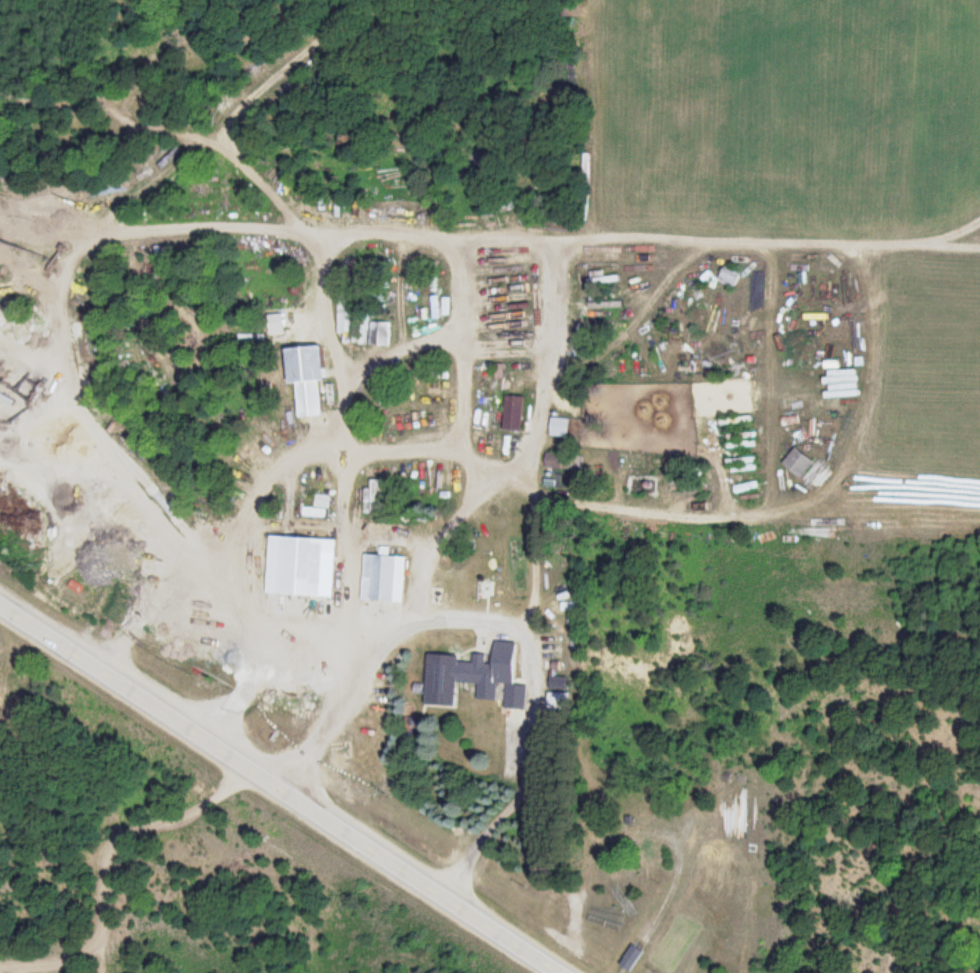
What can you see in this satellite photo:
building: (600, 192)
road: (390, 240)
building: (729, 275)
building: (254, 337)
building: (310, 377)
building: (515, 412)
building: (799, 462)
building: (827, 463)
building: (377, 495)
building: (318, 507)
building: (301, 565)
building: (384, 577)
building: (466, 673)
road: (287, 784)

